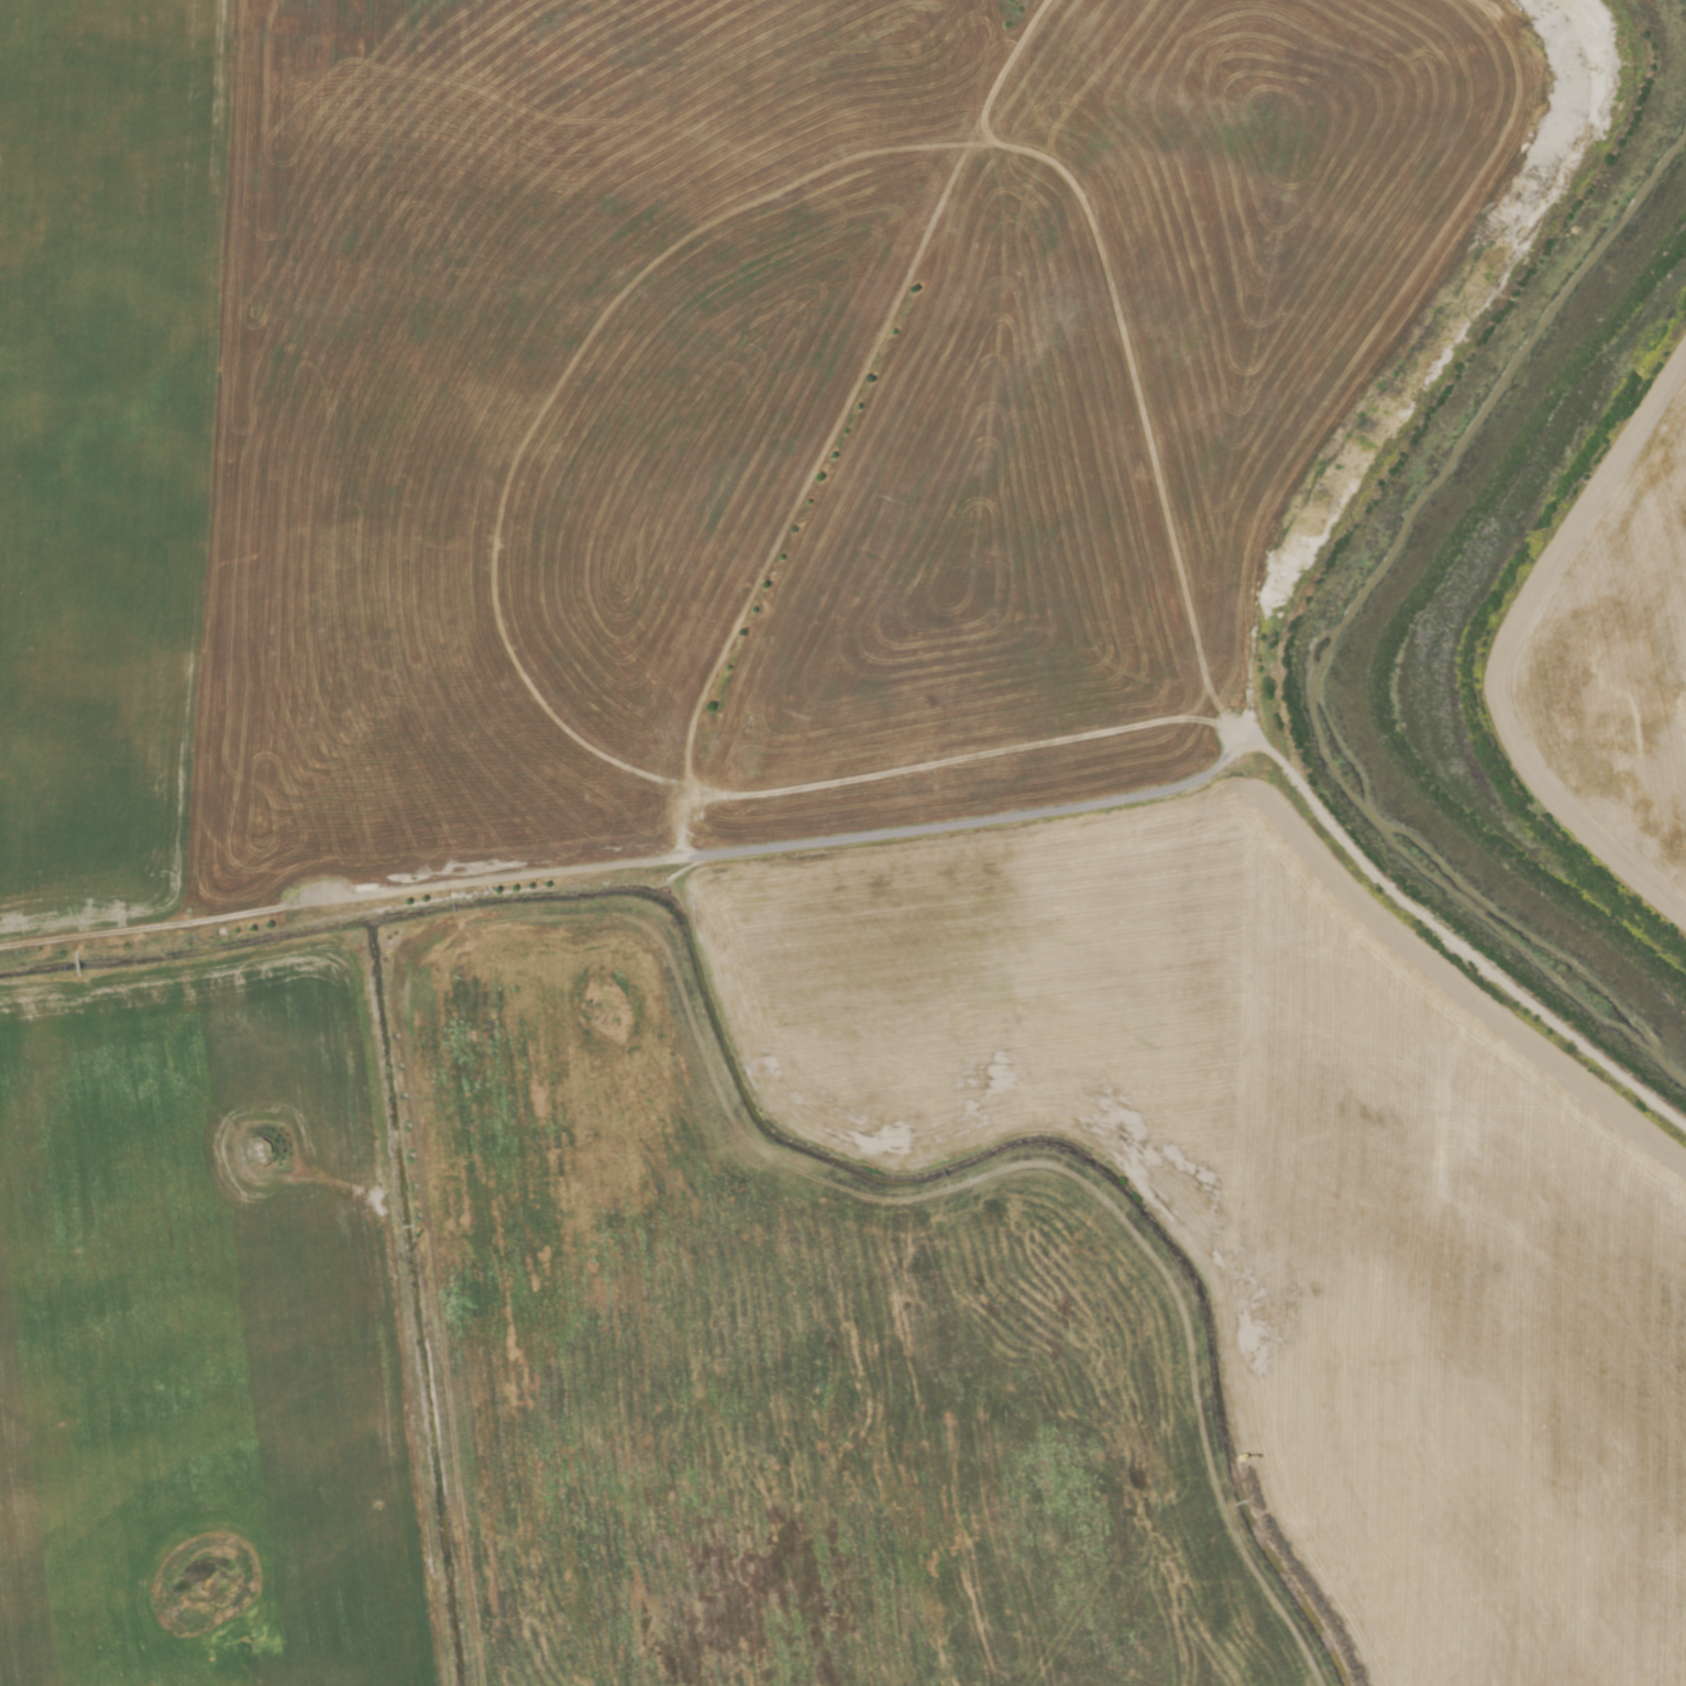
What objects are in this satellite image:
road: (1287, 613)

